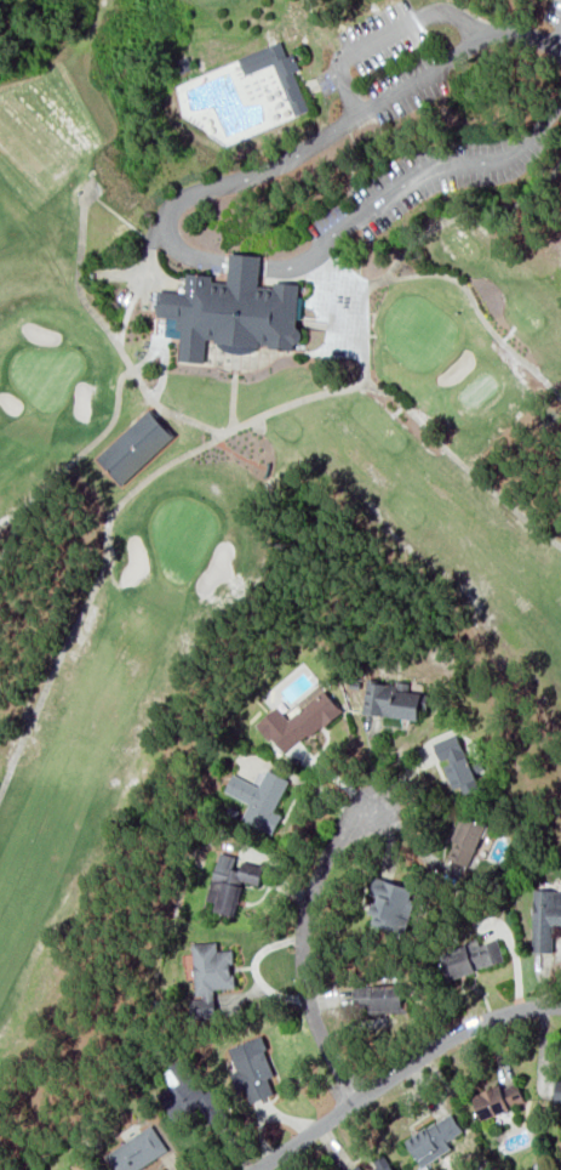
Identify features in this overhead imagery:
building: (293, 91)
road: (463, 144)
building: (231, 309)
park: (254, 375)
building: (134, 445)
building: (390, 699)
building: (297, 721)
building: (258, 799)
building: (464, 841)
building: (231, 881)
building: (390, 903)
building: (544, 918)
road: (303, 922)
building: (470, 956)
building: (208, 976)
building: (377, 996)
building: (251, 1068)
road: (401, 1069)
building: (557, 1090)
building: (188, 1095)
building: (498, 1098)
building: (433, 1138)
building: (136, 1151)
building: (382, 1164)
building: (79, 1165)
building: (355, 1168)

